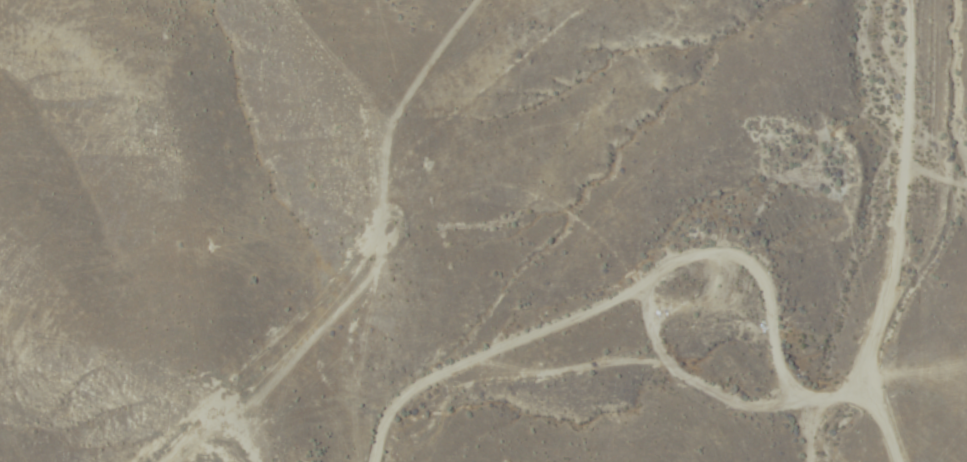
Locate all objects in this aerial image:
road: (894, 212)
road: (678, 257)

